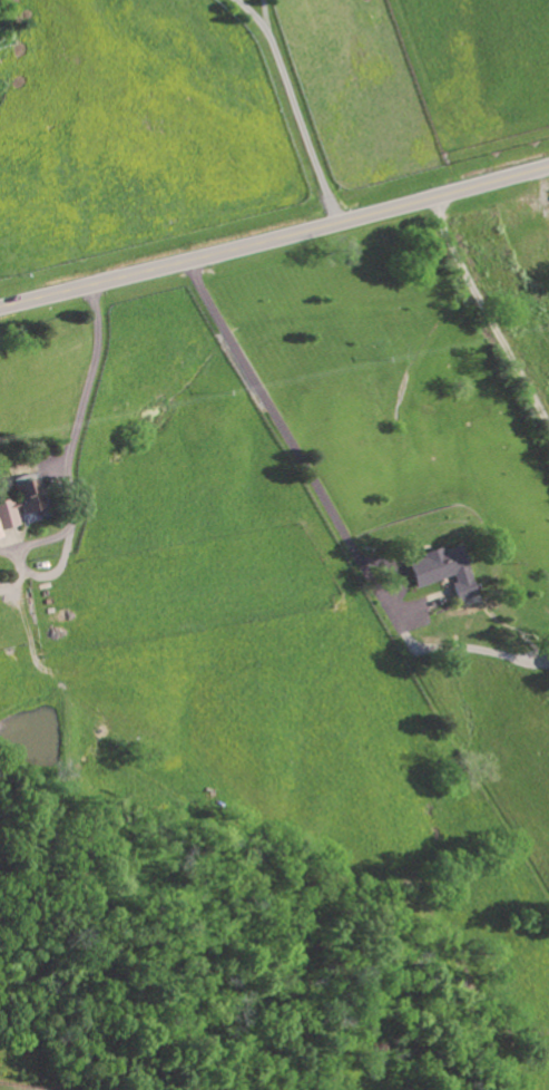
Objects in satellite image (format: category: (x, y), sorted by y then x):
road: (294, 104)
road: (274, 233)
road: (487, 314)
road: (87, 380)
road: (302, 464)
building: (18, 506)
building: (442, 572)
building: (548, 642)

